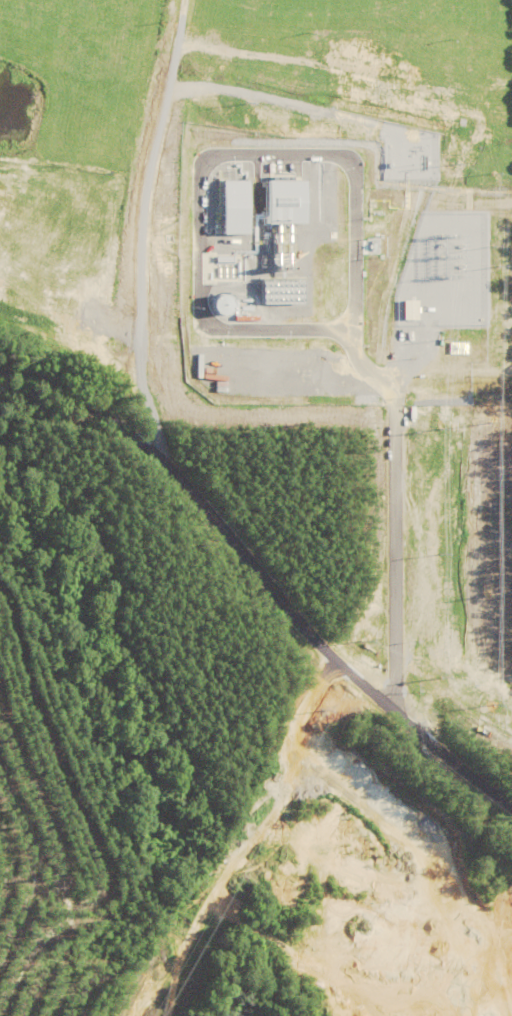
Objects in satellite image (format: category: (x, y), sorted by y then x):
road: (144, 234)
power substation: (450, 284)
road: (395, 539)
road: (259, 576)

